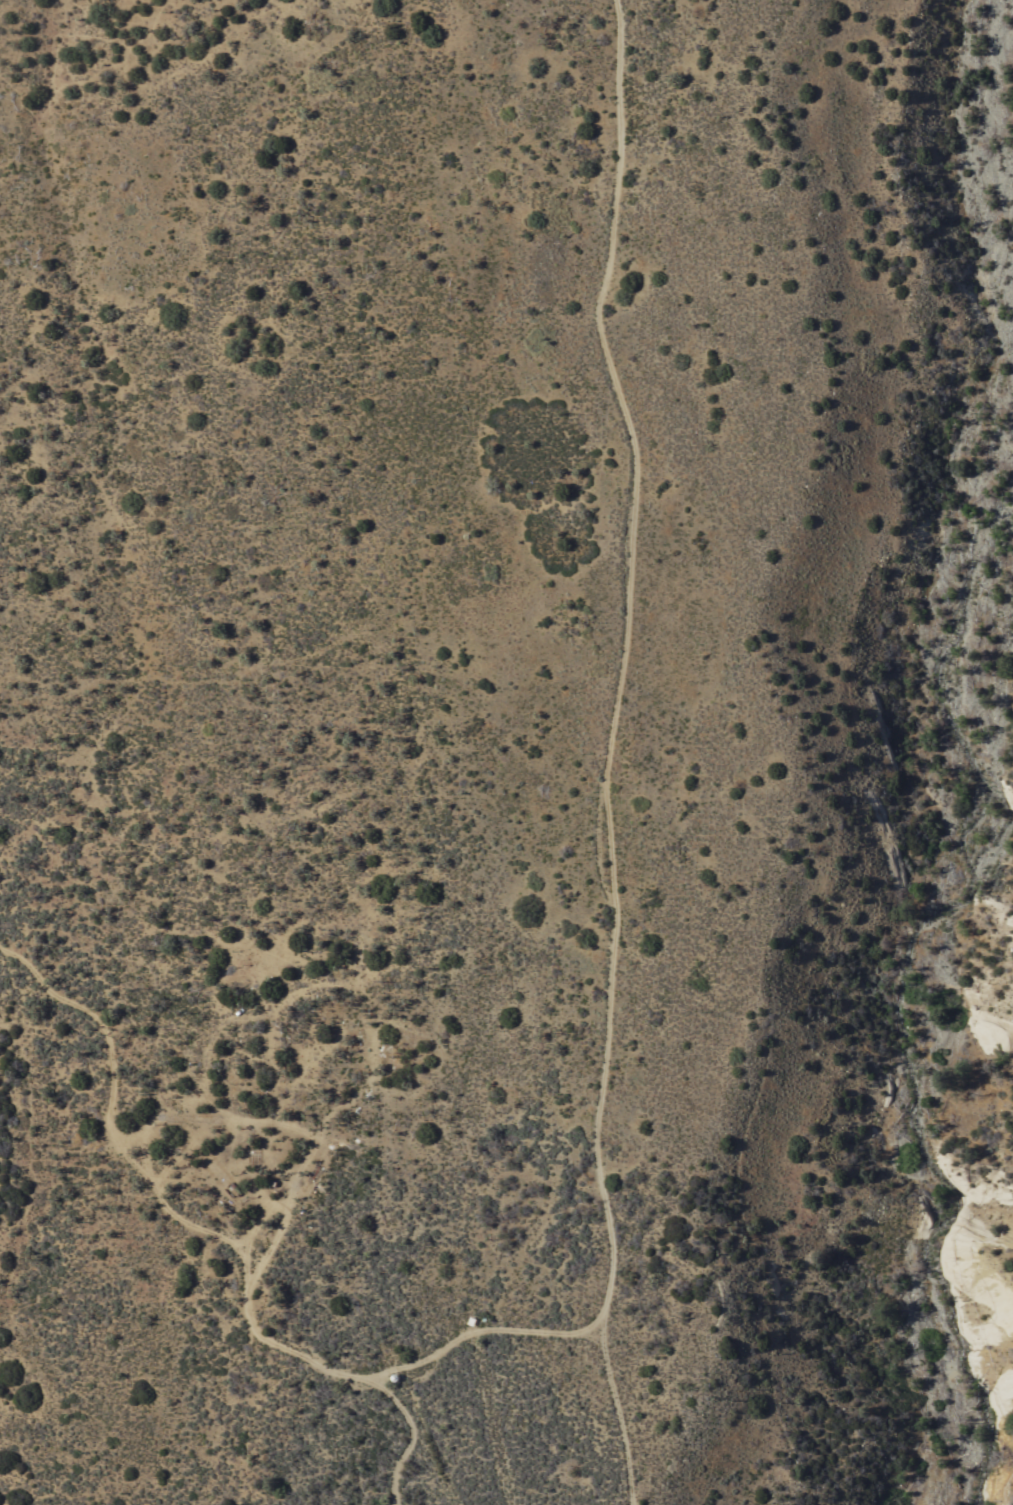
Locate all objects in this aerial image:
road: (610, 247)
road: (610, 1023)
road: (214, 1233)
road: (616, 1412)

